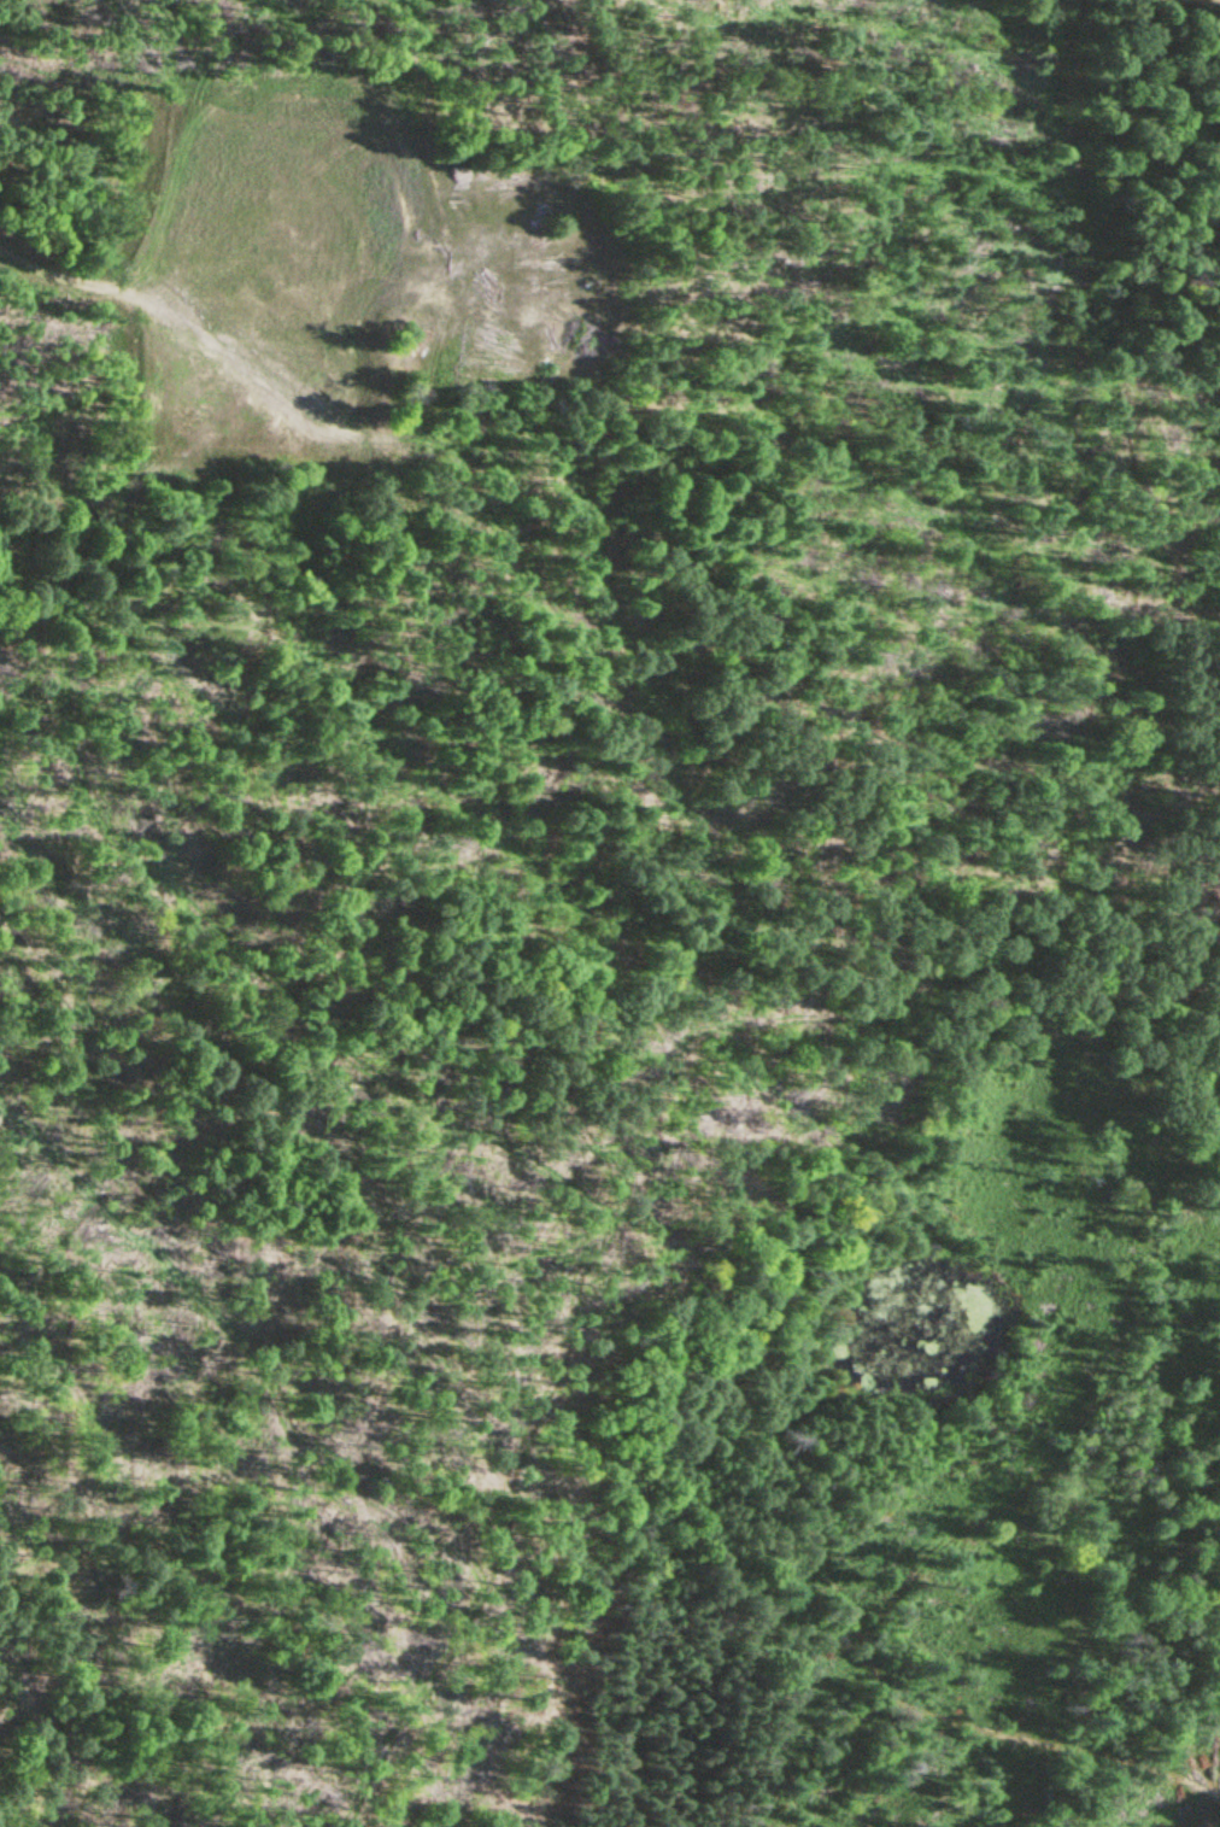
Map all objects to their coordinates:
road: (189, 287)
road: (1180, 1819)

